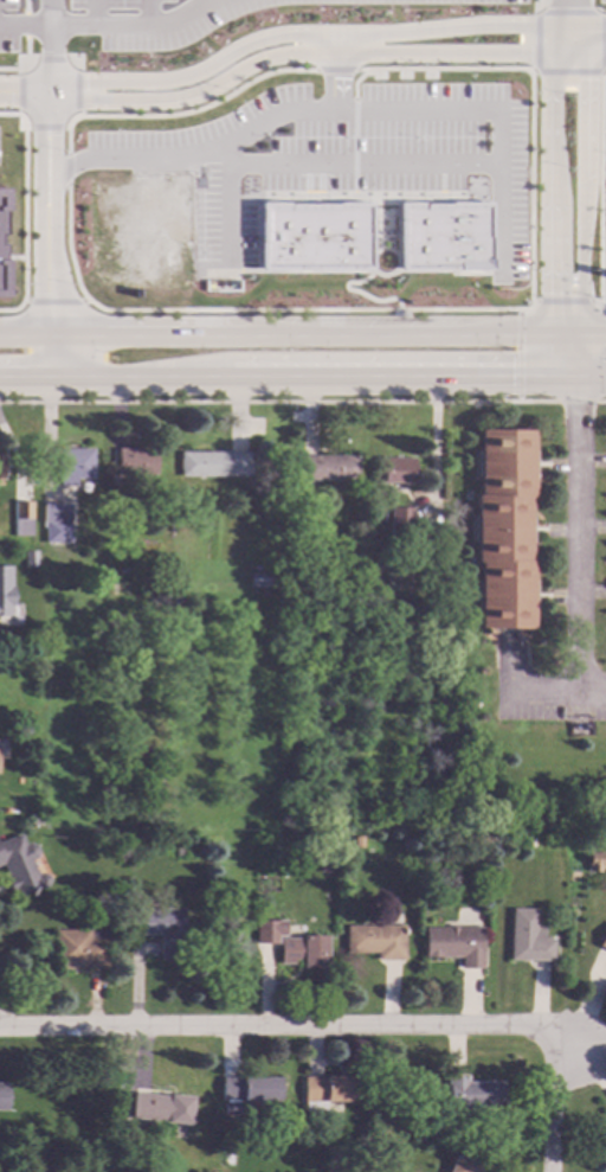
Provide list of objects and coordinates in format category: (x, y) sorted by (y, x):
road: (202, 1)
road: (24, 6)
road: (567, 6)
road: (92, 12)
road: (147, 12)
road: (567, 12)
road: (569, 12)
road: (47, 13)
parking lot: (134, 21)
road: (24, 25)
road: (25, 25)
road: (96, 25)
road: (321, 36)
road: (333, 45)
road: (26, 47)
road: (320, 55)
road: (25, 59)
road: (51, 59)
road: (76, 59)
road: (12, 69)
road: (445, 69)
road: (335, 70)
road: (604, 71)
road: (569, 72)
road: (355, 82)
road: (76, 91)
road: (22, 92)
road: (19, 95)
road: (195, 109)
road: (497, 113)
road: (11, 114)
road: (76, 114)
road: (26, 127)
road: (46, 127)
road: (65, 127)
road: (46, 134)
road: (67, 136)
road: (218, 143)
road: (354, 148)
parking lot: (347, 158)
road: (361, 165)
road: (67, 168)
road: (305, 180)
road: (320, 180)
road: (441, 180)
road: (552, 181)
road: (586, 181)
road: (530, 187)
road: (600, 191)
road: (333, 197)
road: (225, 206)
road: (25, 207)
building: (312, 236)
building: (443, 236)
road: (67, 244)
road: (361, 271)
road: (397, 273)
road: (46, 276)
road: (359, 293)
traffic signals: (554, 294)
road: (563, 301)
road: (601, 307)
road: (265, 310)
road: (24, 334)
road: (146, 334)
road: (593, 334)
road: (320, 335)
road: (473, 335)
road: (567, 335)
road: (556, 344)
road: (570, 344)
road: (517, 356)
road: (337, 357)
traffic signals: (511, 357)
road: (578, 357)
road: (585, 360)
road: (567, 365)
road: (286, 378)
traffic signals: (511, 378)
road: (589, 379)
traffic signals: (573, 409)
building: (135, 460)
building: (212, 462)
building: (72, 463)
building: (327, 466)
building: (0, 467)
building: (394, 469)
building: (295, 500)
building: (22, 515)
building: (57, 521)
building: (399, 521)
building: (501, 527)
road: (572, 534)
building: (30, 558)
building: (389, 559)
building: (260, 578)
building: (296, 579)
building: (5, 590)
building: (128, 621)
road: (555, 691)
building: (33, 818)
building: (355, 840)
building: (527, 840)
building: (179, 850)
building: (592, 859)
building: (322, 864)
building: (19, 865)
building: (115, 899)
building: (165, 929)
building: (266, 929)
building: (526, 936)
building: (374, 940)
building: (602, 940)
building: (452, 943)
building: (79, 948)
building: (302, 949)
road: (297, 1026)
building: (330, 1089)
building: (247, 1090)
building: (471, 1094)
building: (2, 1095)
road: (552, 1100)
building: (161, 1106)
building: (362, 1134)
building: (418, 1135)
building: (462, 1164)

